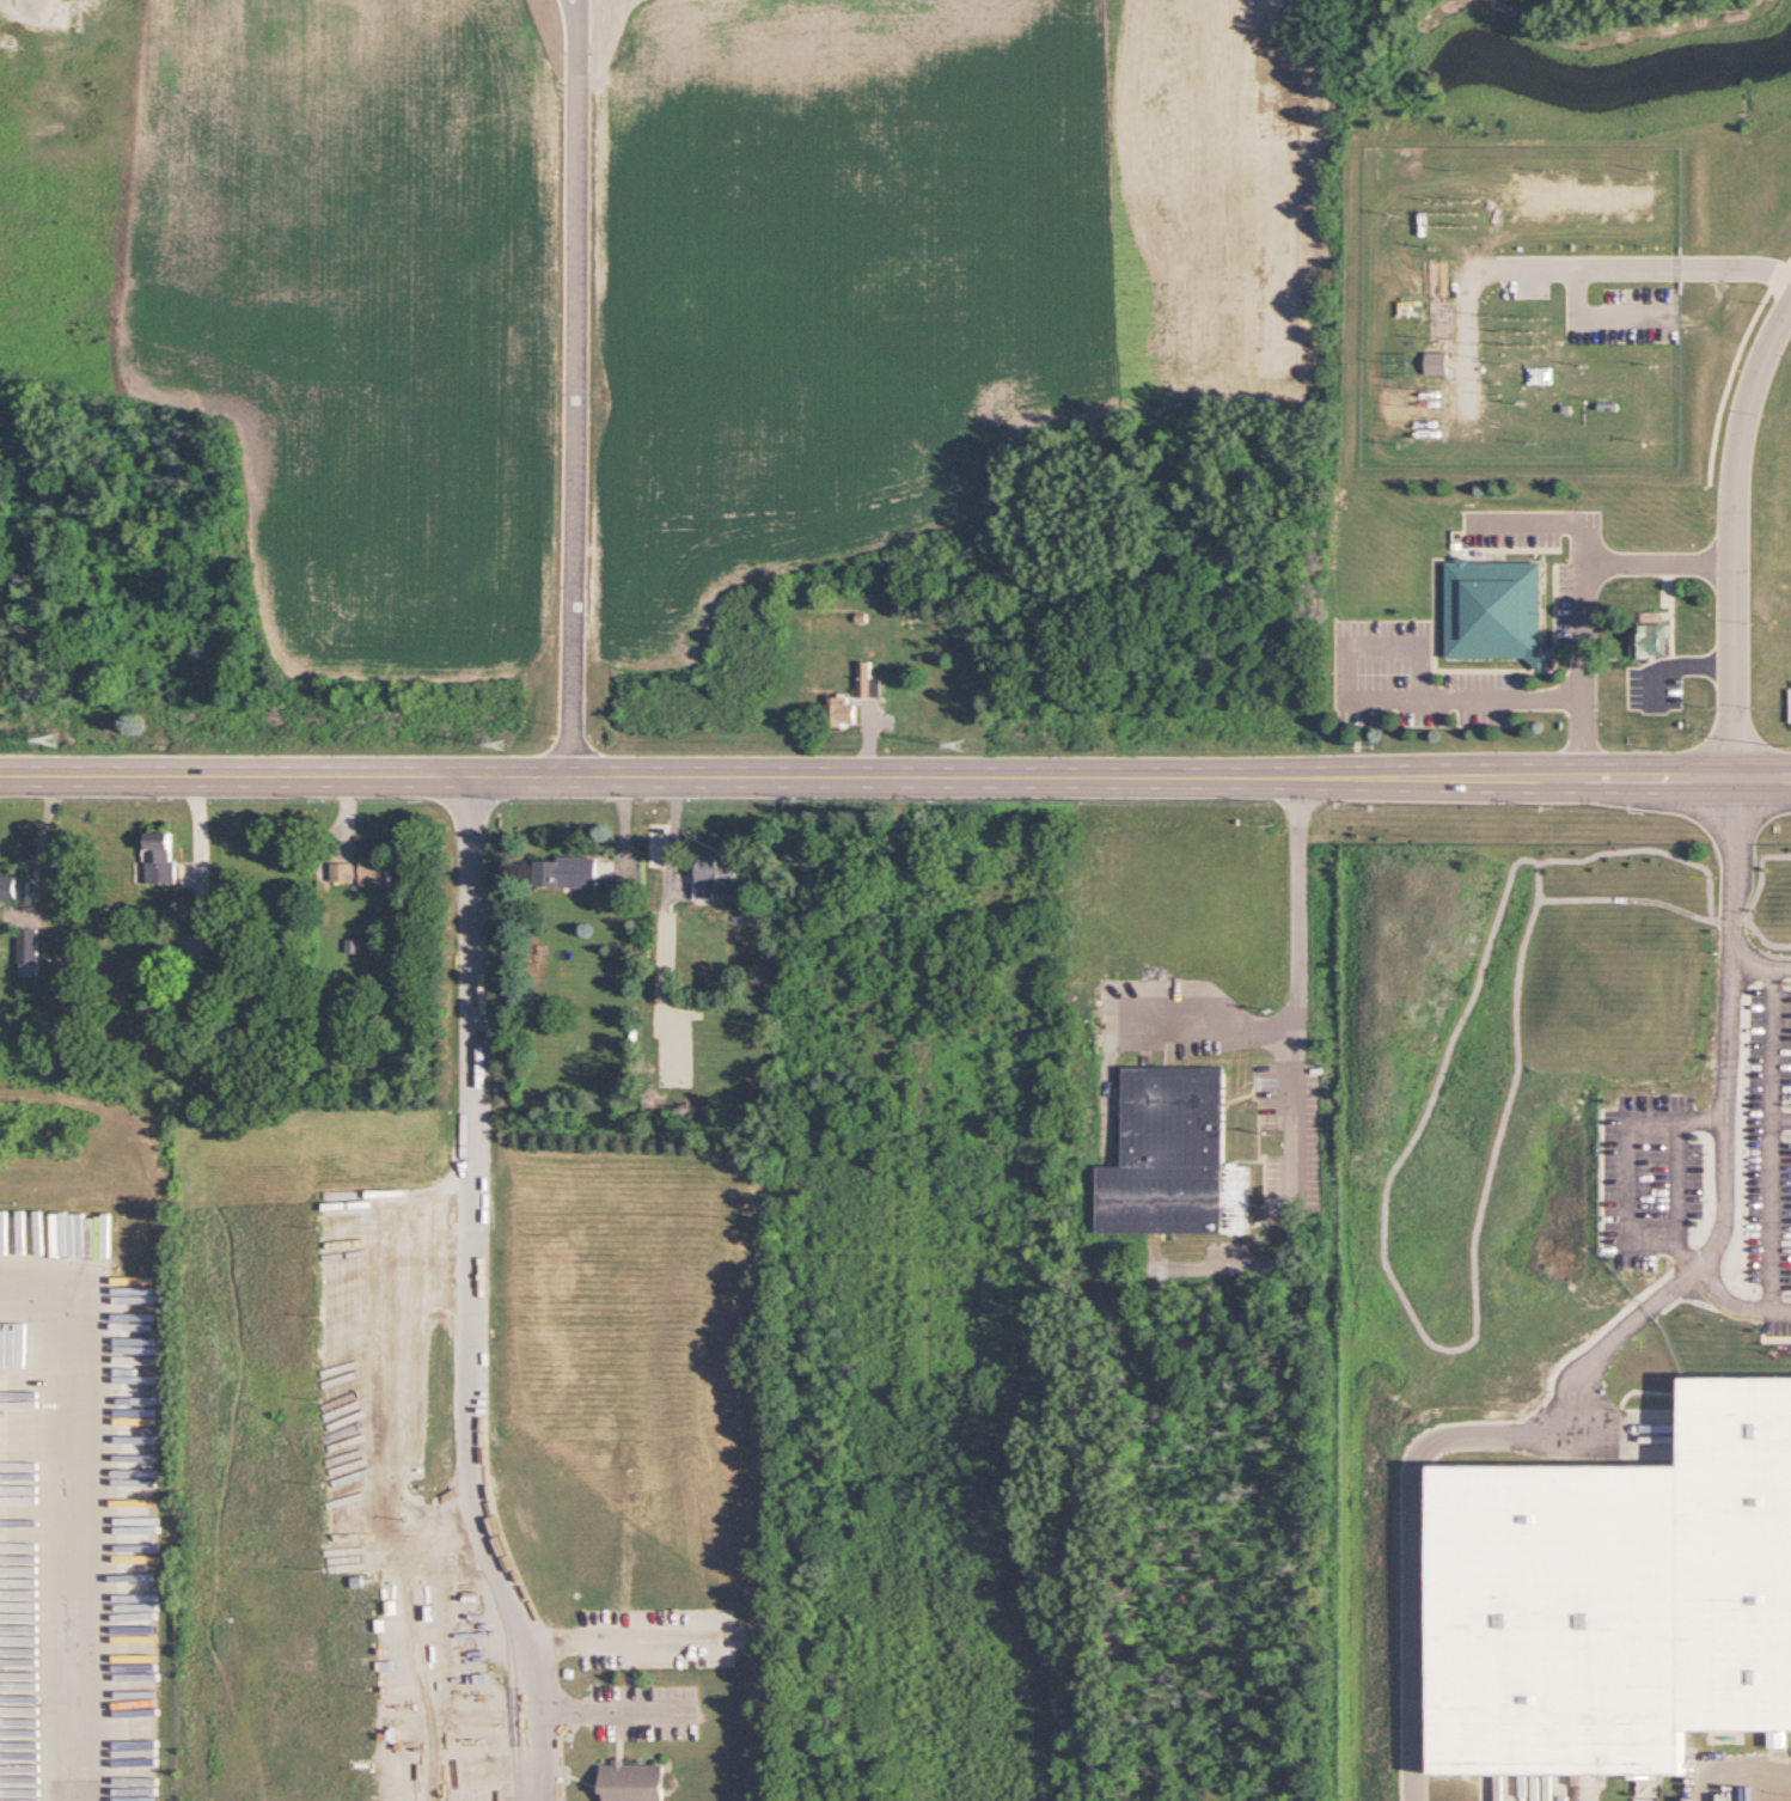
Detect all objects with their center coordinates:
road: (1584, 265)
road: (1596, 316)
building: (1436, 341)
road: (1734, 344)
building: (1437, 362)
road: (570, 386)
road: (1475, 515)
road: (1512, 526)
road: (1737, 537)
road: (1569, 542)
road: (1588, 542)
building: (1497, 582)
road: (1665, 596)
building: (1652, 640)
road: (1484, 648)
road: (1686, 648)
road: (1583, 655)
road: (1371, 673)
building: (867, 680)
building: (839, 710)
road: (895, 773)
road: (674, 837)
building: (161, 857)
building: (366, 871)
building: (568, 872)
building: (719, 875)
building: (14, 887)
road: (1761, 951)
building: (29, 952)
road: (1217, 1020)
road: (1728, 1027)
road: (1767, 1038)
road: (1297, 1072)
building: (1174, 1158)
road: (1624, 1166)
road: (1674, 1179)
road: (1772, 1190)
road: (1668, 1289)
road: (466, 1293)
road: (1736, 1300)
road: (1628, 1406)
road: (1631, 1452)
road: (71, 1508)
road: (1639, 1516)
building: (1734, 1524)
road: (1413, 1543)
road: (1637, 1561)
building: (12, 1577)
road: (609, 1715)
road: (1704, 1777)
building: (634, 1782)

